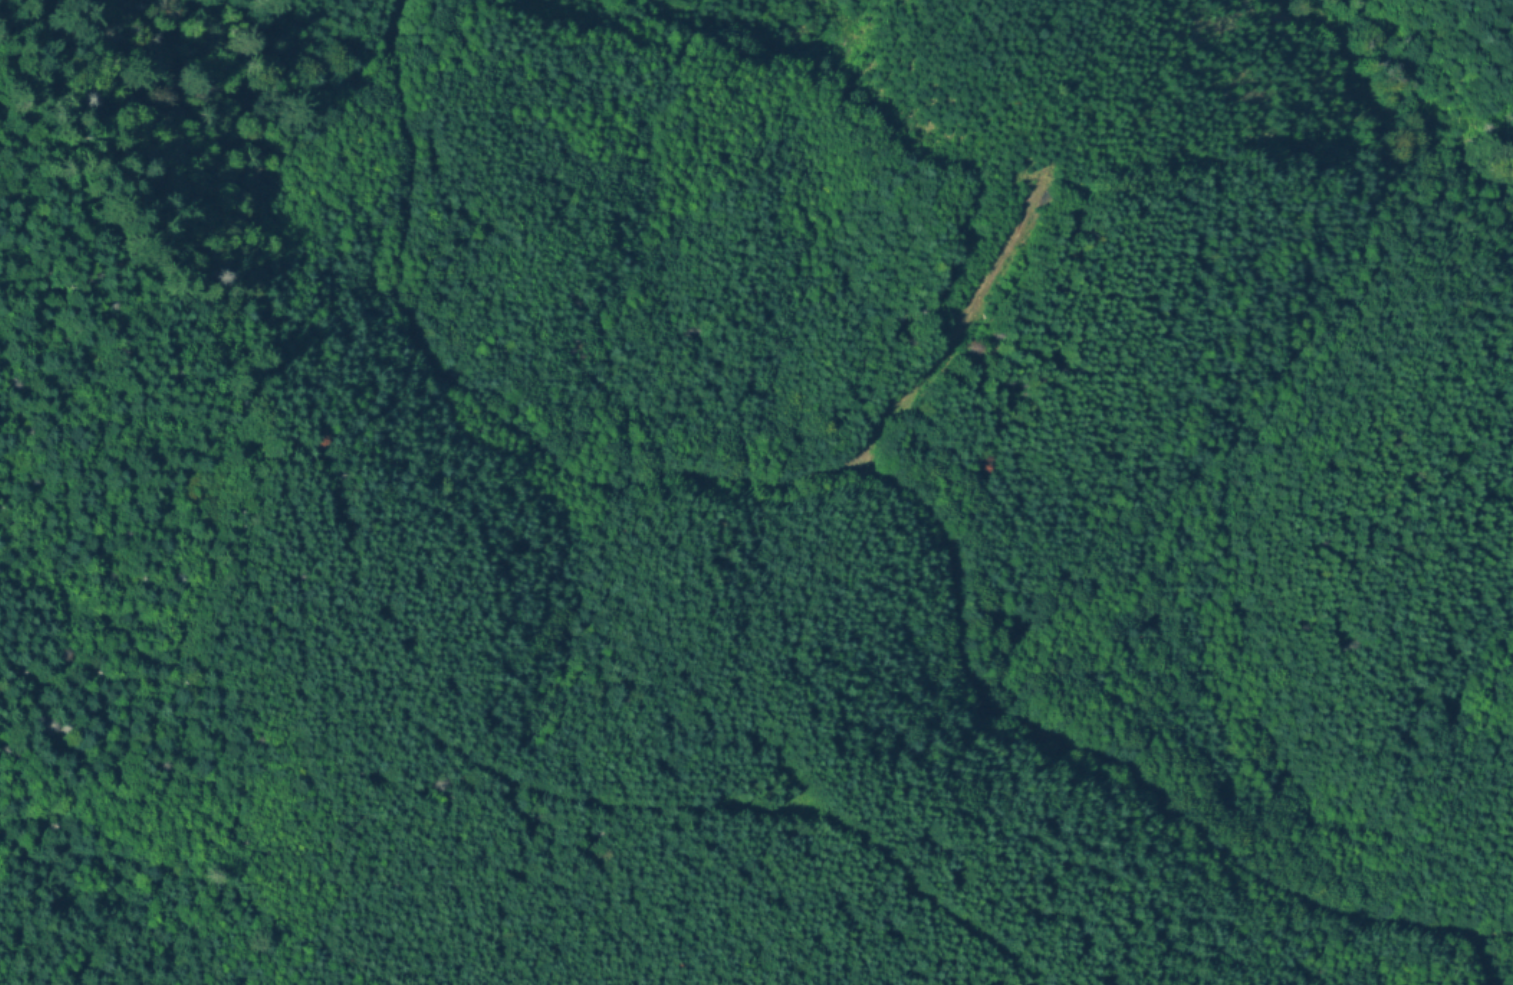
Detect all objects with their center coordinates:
road: (606, 484)
road: (1115, 767)
road: (668, 800)
road: (1471, 932)

